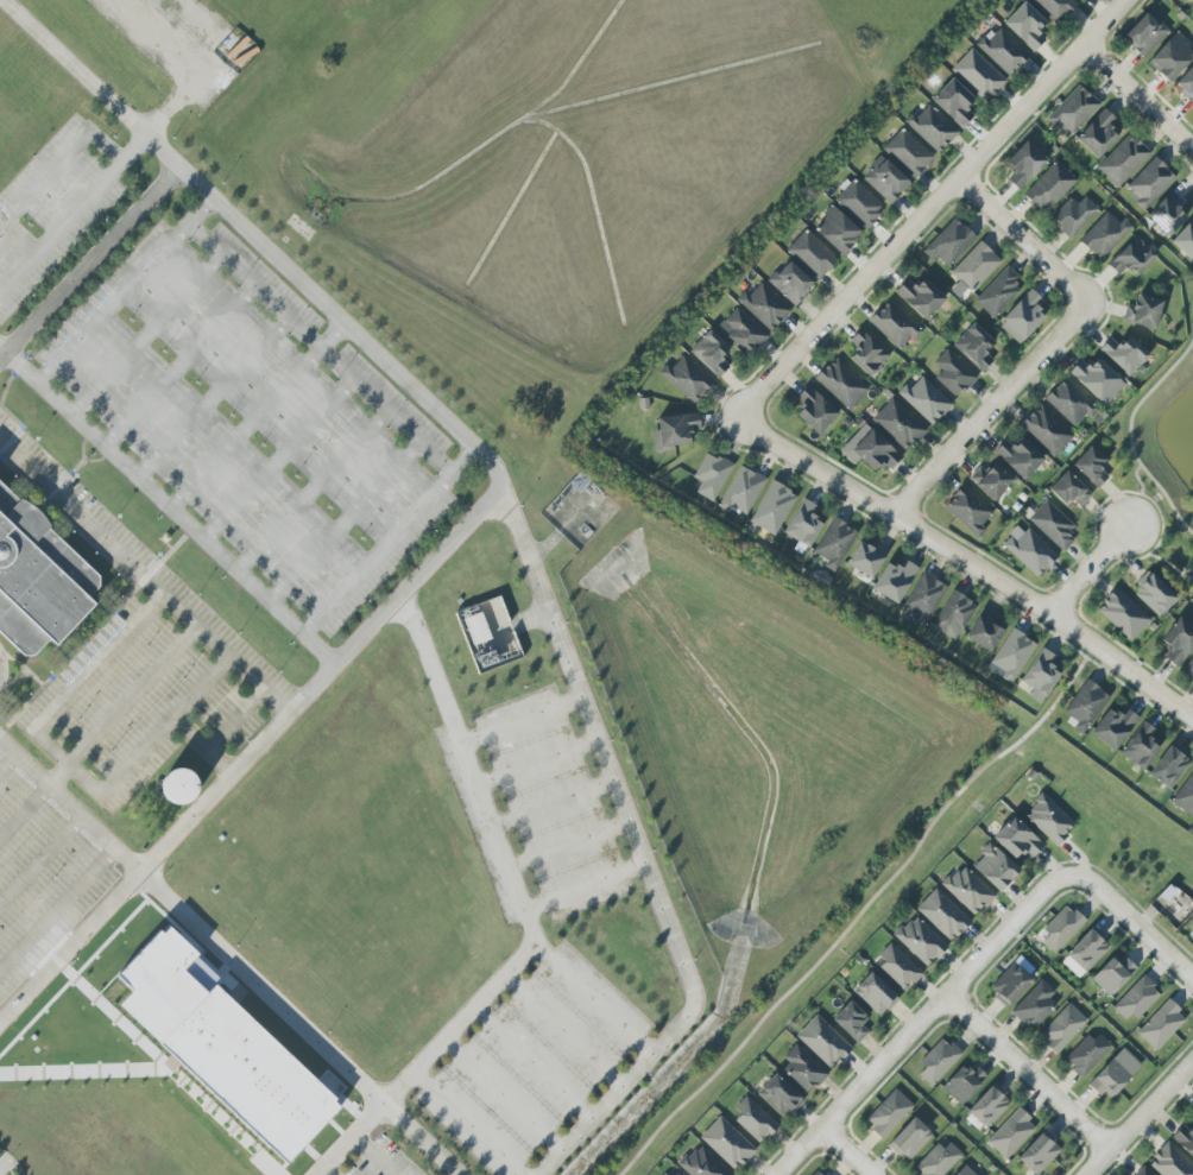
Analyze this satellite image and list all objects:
building: (1079, 0)
building: (1192, 1)
building: (1054, 7)
building: (1025, 26)
building: (1145, 32)
building: (1002, 51)
building: (1170, 57)
building: (977, 75)
building: (1186, 84)
road: (1138, 96)
building: (953, 102)
building: (1072, 109)
building: (930, 128)
building: (1097, 133)
building: (907, 153)
building: (1122, 160)
road: (56, 162)
building: (1023, 164)
building: (884, 179)
building: (1149, 183)
building: (1049, 187)
building: (858, 203)
parking lot: (55, 206)
road: (927, 209)
building: (1167, 213)
road: (71, 214)
building: (1072, 215)
building: (837, 230)
building: (1104, 234)
building: (1185, 239)
road: (1024, 240)
building: (948, 242)
building: (810, 254)
building: (1131, 257)
road: (89, 263)
building: (972, 269)
building: (789, 283)
building: (998, 292)
building: (920, 297)
road: (114, 304)
building: (763, 307)
building: (1142, 311)
building: (1022, 317)
building: (894, 324)
building: (743, 331)
road: (308, 337)
road: (367, 347)
building: (973, 347)
building: (709, 353)
building: (866, 353)
building: (1123, 354)
building: (952, 373)
building: (686, 378)
building: (1096, 379)
building: (840, 384)
building: (924, 399)
building: (1069, 403)
road: (991, 409)
building: (814, 410)
road: (255, 416)
parking lot: (254, 418)
building: (897, 424)
building: (673, 431)
building: (1046, 431)
road: (1129, 434)
building: (869, 449)
building: (1018, 456)
building: (1090, 467)
building: (711, 475)
building: (990, 480)
building: (1068, 489)
building: (740, 491)
road: (166, 506)
building: (772, 507)
building: (967, 511)
road: (343, 523)
building: (803, 524)
building: (1053, 525)
road: (387, 541)
building: (833, 543)
building: (1029, 550)
building: (865, 557)
road: (967, 561)
road: (1088, 569)
building: (38, 579)
road: (143, 579)
building: (892, 580)
building: (1153, 593)
building: (923, 599)
building: (1123, 614)
building: (952, 615)
building: (476, 628)
building: (983, 630)
building: (1178, 640)
building: (1010, 656)
parking lot: (139, 662)
building: (1189, 668)
building: (1040, 676)
road: (71, 691)
building: (1084, 706)
road: (523, 720)
building: (1112, 727)
road: (153, 740)
building: (1140, 745)
road: (7, 762)
road: (538, 762)
building: (1168, 765)
building: (179, 787)
building: (1185, 797)
road: (555, 804)
road: (23, 808)
building: (1048, 820)
building: (1016, 839)
road: (569, 844)
road: (640, 847)
road: (143, 867)
building: (993, 867)
parking lot: (42, 877)
road: (585, 885)
building: (966, 890)
road: (525, 914)
road: (861, 914)
building: (942, 914)
road: (1131, 918)
building: (223, 926)
building: (1061, 928)
building: (1192, 935)
building: (919, 941)
building: (1084, 953)
road: (228, 958)
building: (897, 967)
building: (1112, 974)
building: (1010, 984)
building: (875, 994)
building: (1136, 998)
road: (592, 1000)
building: (1034, 1004)
building: (850, 1022)
road: (917, 1024)
building: (1160, 1024)
building: (1062, 1028)
road: (563, 1030)
building: (821, 1041)
building: (222, 1046)
building: (1086, 1054)
road: (537, 1056)
building: (938, 1061)
building: (802, 1068)
road: (1027, 1072)
building: (1109, 1078)
building: (962, 1082)
road: (505, 1091)
building: (778, 1095)
building: (987, 1105)
building: (889, 1113)
road: (1138, 1117)
building: (753, 1119)
road: (466, 1125)
building: (1010, 1133)
building: (908, 1138)
building: (1185, 1138)
building: (726, 1143)
road: (846, 1151)
building: (1039, 1152)
building: (938, 1158)
building: (1169, 1162)
building: (700, 1164)
building: (964, 1171)
building: (1142, 1171)
building: (815, 1173)
building: (663, 1174)
building: (676, 1174)

